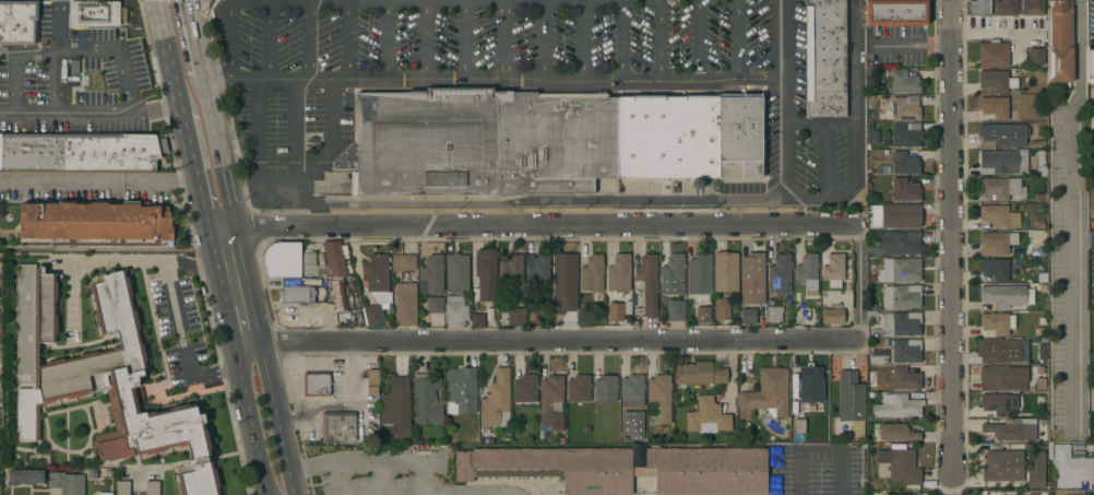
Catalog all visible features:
road: (600, 0)
road: (304, 1)
road: (368, 2)
building: (979, 8)
building: (1006, 8)
building: (1032, 8)
building: (896, 12)
building: (94, 13)
building: (17, 23)
road: (194, 38)
road: (502, 38)
road: (543, 39)
road: (661, 39)
road: (737, 39)
road: (347, 40)
road: (388, 40)
road: (426, 40)
road: (464, 40)
road: (582, 40)
road: (619, 40)
road: (700, 40)
road: (269, 42)
road: (307, 42)
building: (1059, 42)
road: (908, 47)
building: (992, 55)
road: (55, 56)
road: (66, 57)
road: (170, 57)
building: (1035, 57)
building: (825, 58)
building: (1090, 62)
road: (494, 79)
building: (996, 82)
building: (903, 83)
parking lot: (79, 84)
road: (14, 85)
building: (995, 107)
building: (905, 108)
road: (72, 113)
road: (819, 122)
road: (257, 129)
road: (295, 131)
building: (668, 134)
building: (905, 134)
building: (740, 135)
building: (1001, 135)
building: (875, 137)
road: (189, 138)
building: (426, 142)
building: (555, 142)
building: (0, 152)
building: (80, 152)
road: (321, 154)
building: (1041, 158)
building: (1003, 162)
building: (904, 163)
building: (883, 169)
building: (1041, 172)
road: (100, 182)
building: (1082, 186)
building: (1000, 187)
building: (904, 189)
road: (201, 197)
building: (1039, 199)
road: (817, 200)
road: (527, 201)
road: (229, 209)
building: (901, 215)
road: (294, 217)
building: (998, 217)
road: (1077, 219)
building: (95, 222)
building: (1039, 225)
road: (545, 226)
road: (222, 232)
building: (899, 243)
building: (996, 243)
road: (947, 245)
building: (1037, 251)
road: (134, 260)
building: (301, 260)
building: (403, 262)
building: (537, 267)
building: (511, 268)
building: (995, 269)
road: (217, 270)
building: (833, 270)
building: (900, 270)
building: (563, 271)
building: (726, 271)
building: (456, 272)
building: (592, 273)
building: (619, 273)
building: (780, 273)
building: (807, 273)
building: (699, 274)
building: (431, 275)
building: (486, 275)
building: (673, 275)
building: (752, 278)
building: (646, 282)
road: (856, 283)
building: (376, 287)
building: (297, 294)
building: (340, 295)
building: (1006, 295)
building: (901, 296)
building: (405, 304)
building: (436, 305)
road: (71, 306)
building: (722, 308)
building: (455, 309)
building: (675, 310)
building: (616, 311)
building: (702, 314)
building: (774, 314)
building: (748, 316)
building: (833, 316)
building: (330, 317)
building: (513, 317)
building: (477, 320)
building: (1043, 321)
building: (896, 322)
road: (230, 326)
parking lot: (182, 327)
building: (1041, 331)
building: (999, 340)
road: (557, 342)
road: (247, 343)
road: (73, 351)
building: (906, 351)
road: (185, 352)
building: (1043, 353)
road: (237, 355)
building: (878, 357)
building: (1093, 365)
building: (699, 374)
building: (103, 378)
building: (905, 378)
building: (1002, 378)
building: (372, 381)
building: (317, 384)
building: (810, 384)
building: (1039, 384)
building: (605, 388)
building: (632, 388)
building: (525, 389)
building: (579, 389)
building: (460, 391)
building: (768, 393)
building: (661, 396)
building: (1092, 397)
building: (426, 400)
building: (496, 401)
building: (551, 401)
building: (852, 401)
building: (1039, 402)
building: (998, 403)
building: (396, 406)
building: (897, 406)
building: (1043, 414)
building: (706, 416)
road: (275, 419)
building: (799, 425)
building: (338, 427)
road: (252, 431)
building: (897, 432)
building: (1011, 432)
road: (816, 449)
road: (1091, 450)
road: (371, 459)
building: (901, 463)
building: (1003, 465)
building: (1071, 467)
building: (628, 468)
building: (1035, 469)
parking lot: (820, 472)
building: (25, 476)
road: (341, 476)
parking lot: (388, 476)
road: (381, 478)
building: (67, 483)
road: (136, 486)
building: (122, 487)
building: (152, 487)
road: (471, 493)
road: (947, 493)
building: (105, 494)
road: (468, 494)
building: (904, 494)

